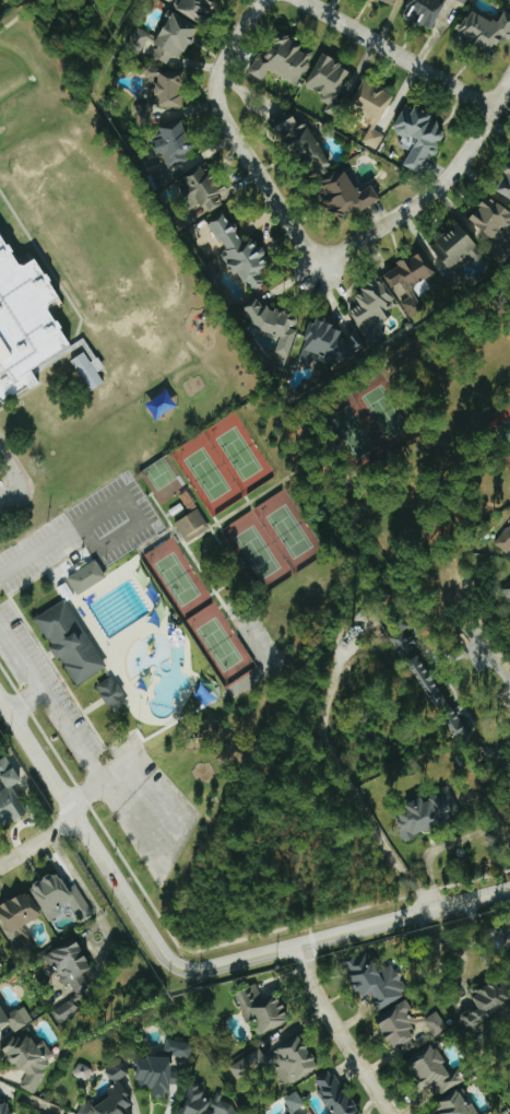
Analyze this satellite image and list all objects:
building: (392, 1)
building: (464, 1)
building: (197, 8)
building: (425, 11)
building: (485, 30)
building: (167, 39)
road: (396, 54)
building: (284, 61)
building: (331, 80)
building: (167, 86)
road: (500, 92)
building: (372, 103)
building: (145, 113)
building: (420, 136)
building: (176, 143)
building: (305, 145)
building: (509, 156)
building: (506, 186)
building: (203, 189)
building: (347, 195)
building: (493, 216)
road: (298, 238)
building: (242, 253)
building: (411, 280)
building: (373, 310)
building: (24, 323)
building: (274, 325)
building: (330, 344)
building: (90, 371)
road: (19, 482)
building: (193, 525)
road: (57, 540)
building: (505, 541)
building: (88, 577)
building: (506, 590)
building: (72, 642)
road: (488, 658)
road: (31, 673)
building: (427, 683)
building: (114, 693)
building: (464, 726)
road: (500, 750)
road: (86, 753)
road: (347, 784)
building: (10, 795)
building: (424, 811)
road: (489, 811)
road: (37, 841)
road: (436, 847)
building: (60, 898)
building: (20, 914)
building: (1, 943)
road: (437, 959)
building: (71, 964)
road: (187, 968)
building: (1, 972)
building: (377, 981)
building: (71, 1007)
building: (486, 1007)
building: (263, 1010)
building: (14, 1018)
building: (436, 1024)
building: (399, 1025)
road: (337, 1031)
building: (183, 1049)
building: (29, 1059)
building: (281, 1063)
building: (83, 1071)
building: (117, 1071)
building: (435, 1071)
building: (158, 1076)
building: (336, 1093)
building: (110, 1102)
building: (295, 1102)
building: (5, 1109)

